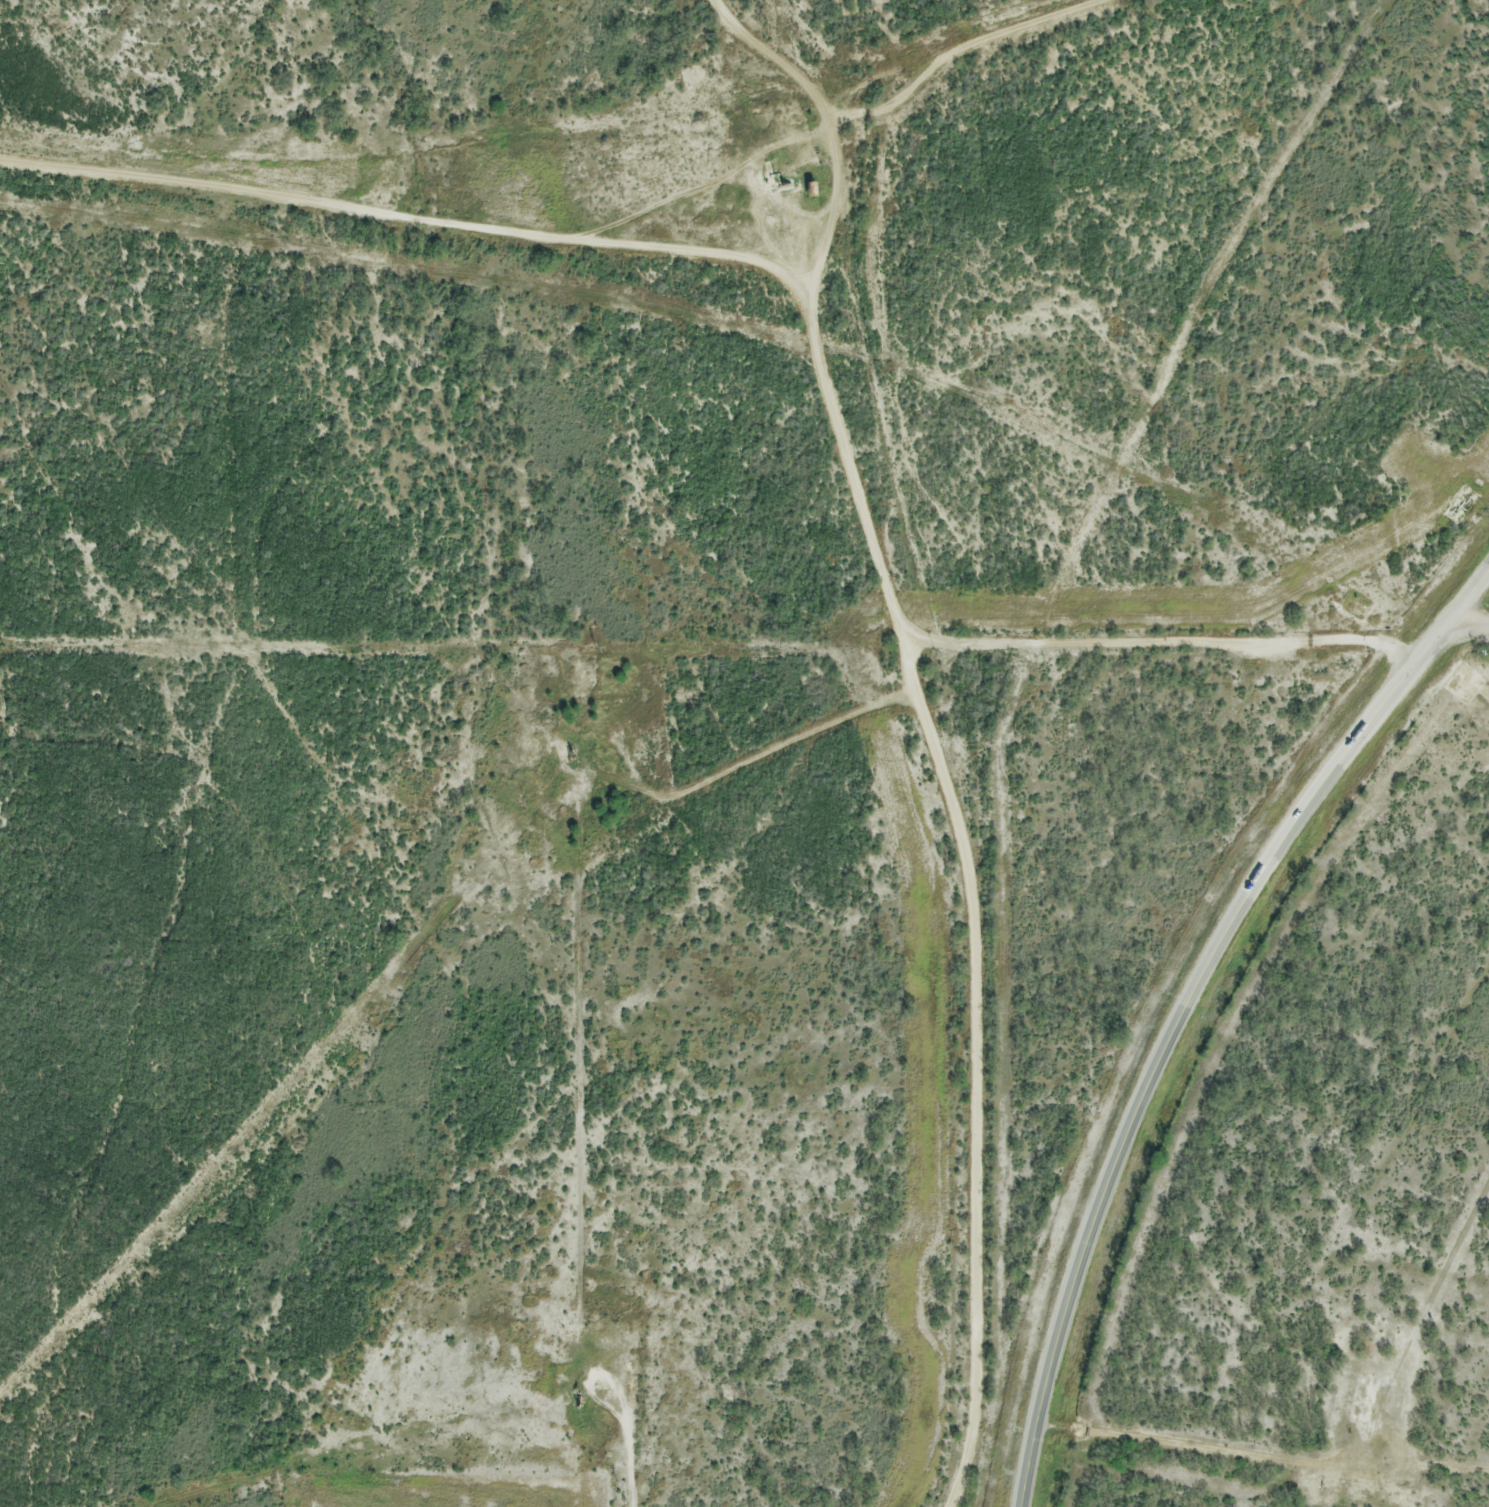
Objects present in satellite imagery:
road: (857, 495)
road: (1465, 625)
road: (1159, 639)
road: (1181, 1000)

